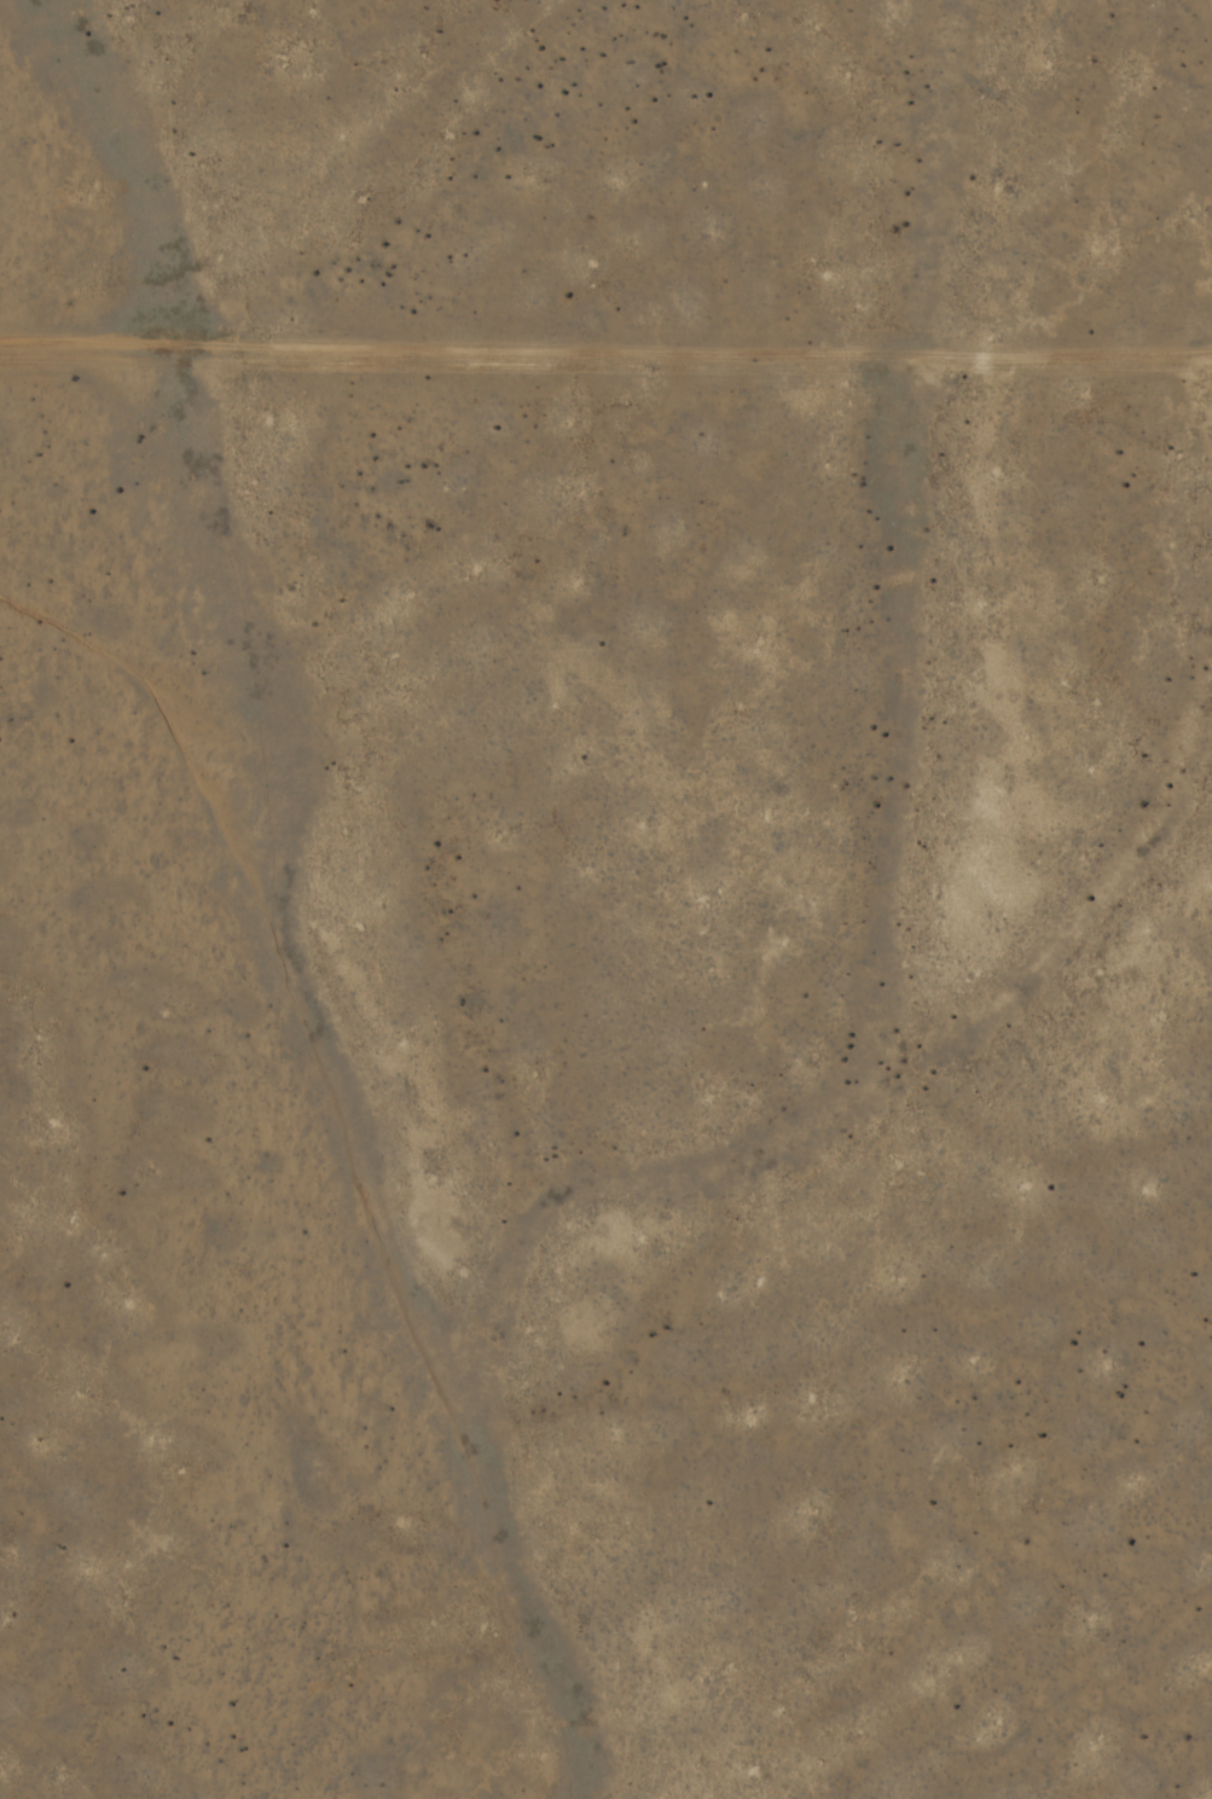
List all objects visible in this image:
road: (1027, 117)
road: (605, 353)
road: (1210, 1768)

